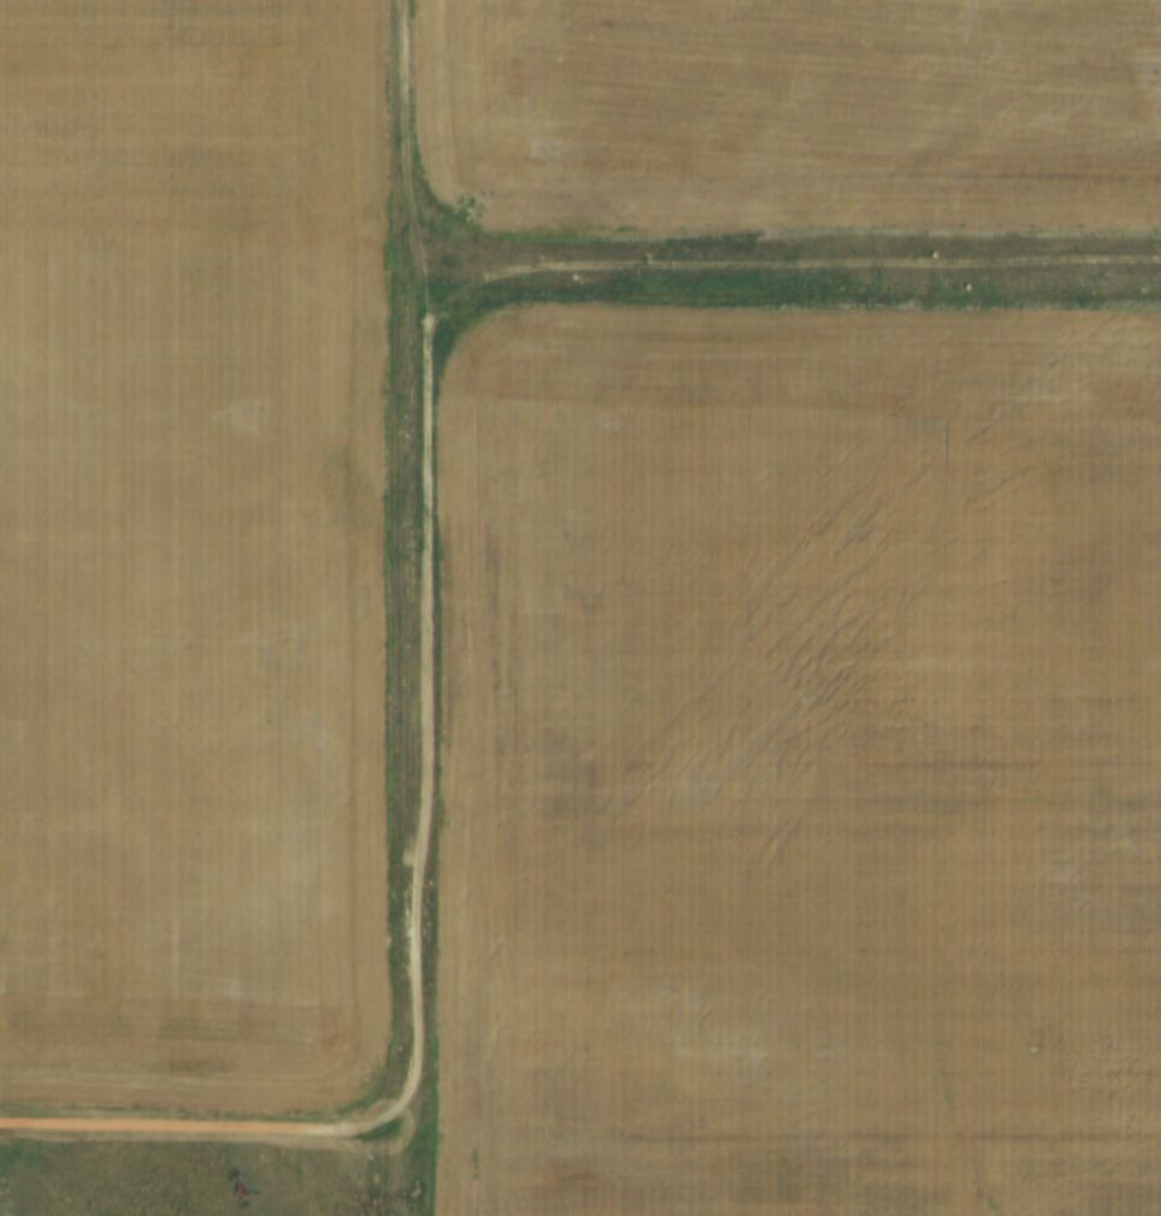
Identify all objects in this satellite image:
road: (408, 757)

